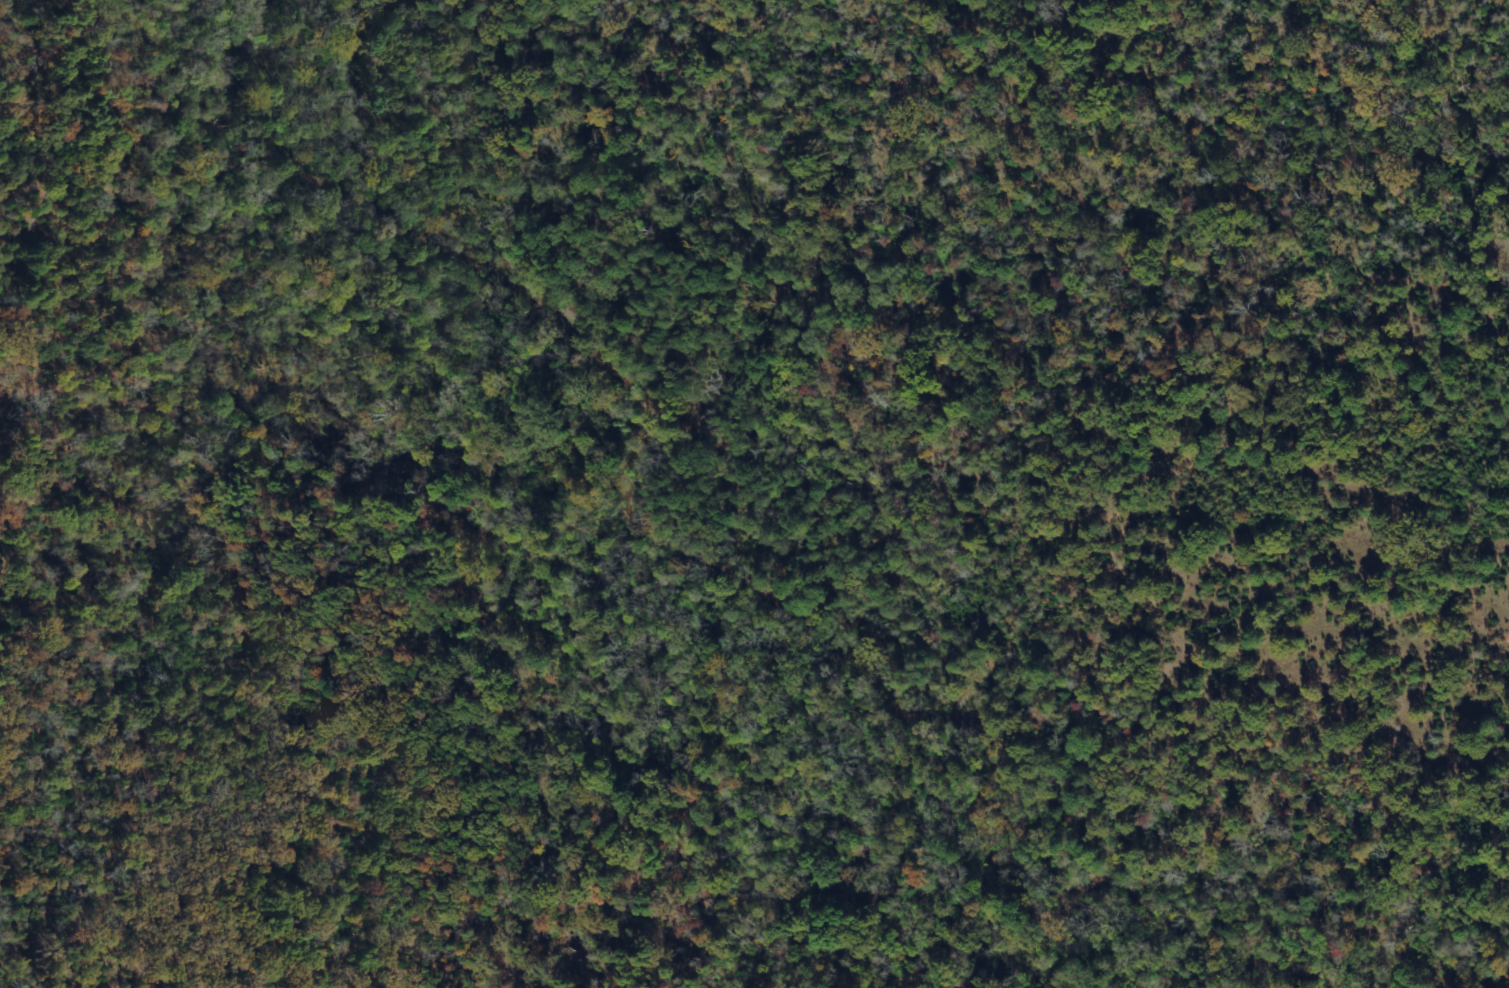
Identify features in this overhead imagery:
road: (1490, 125)

